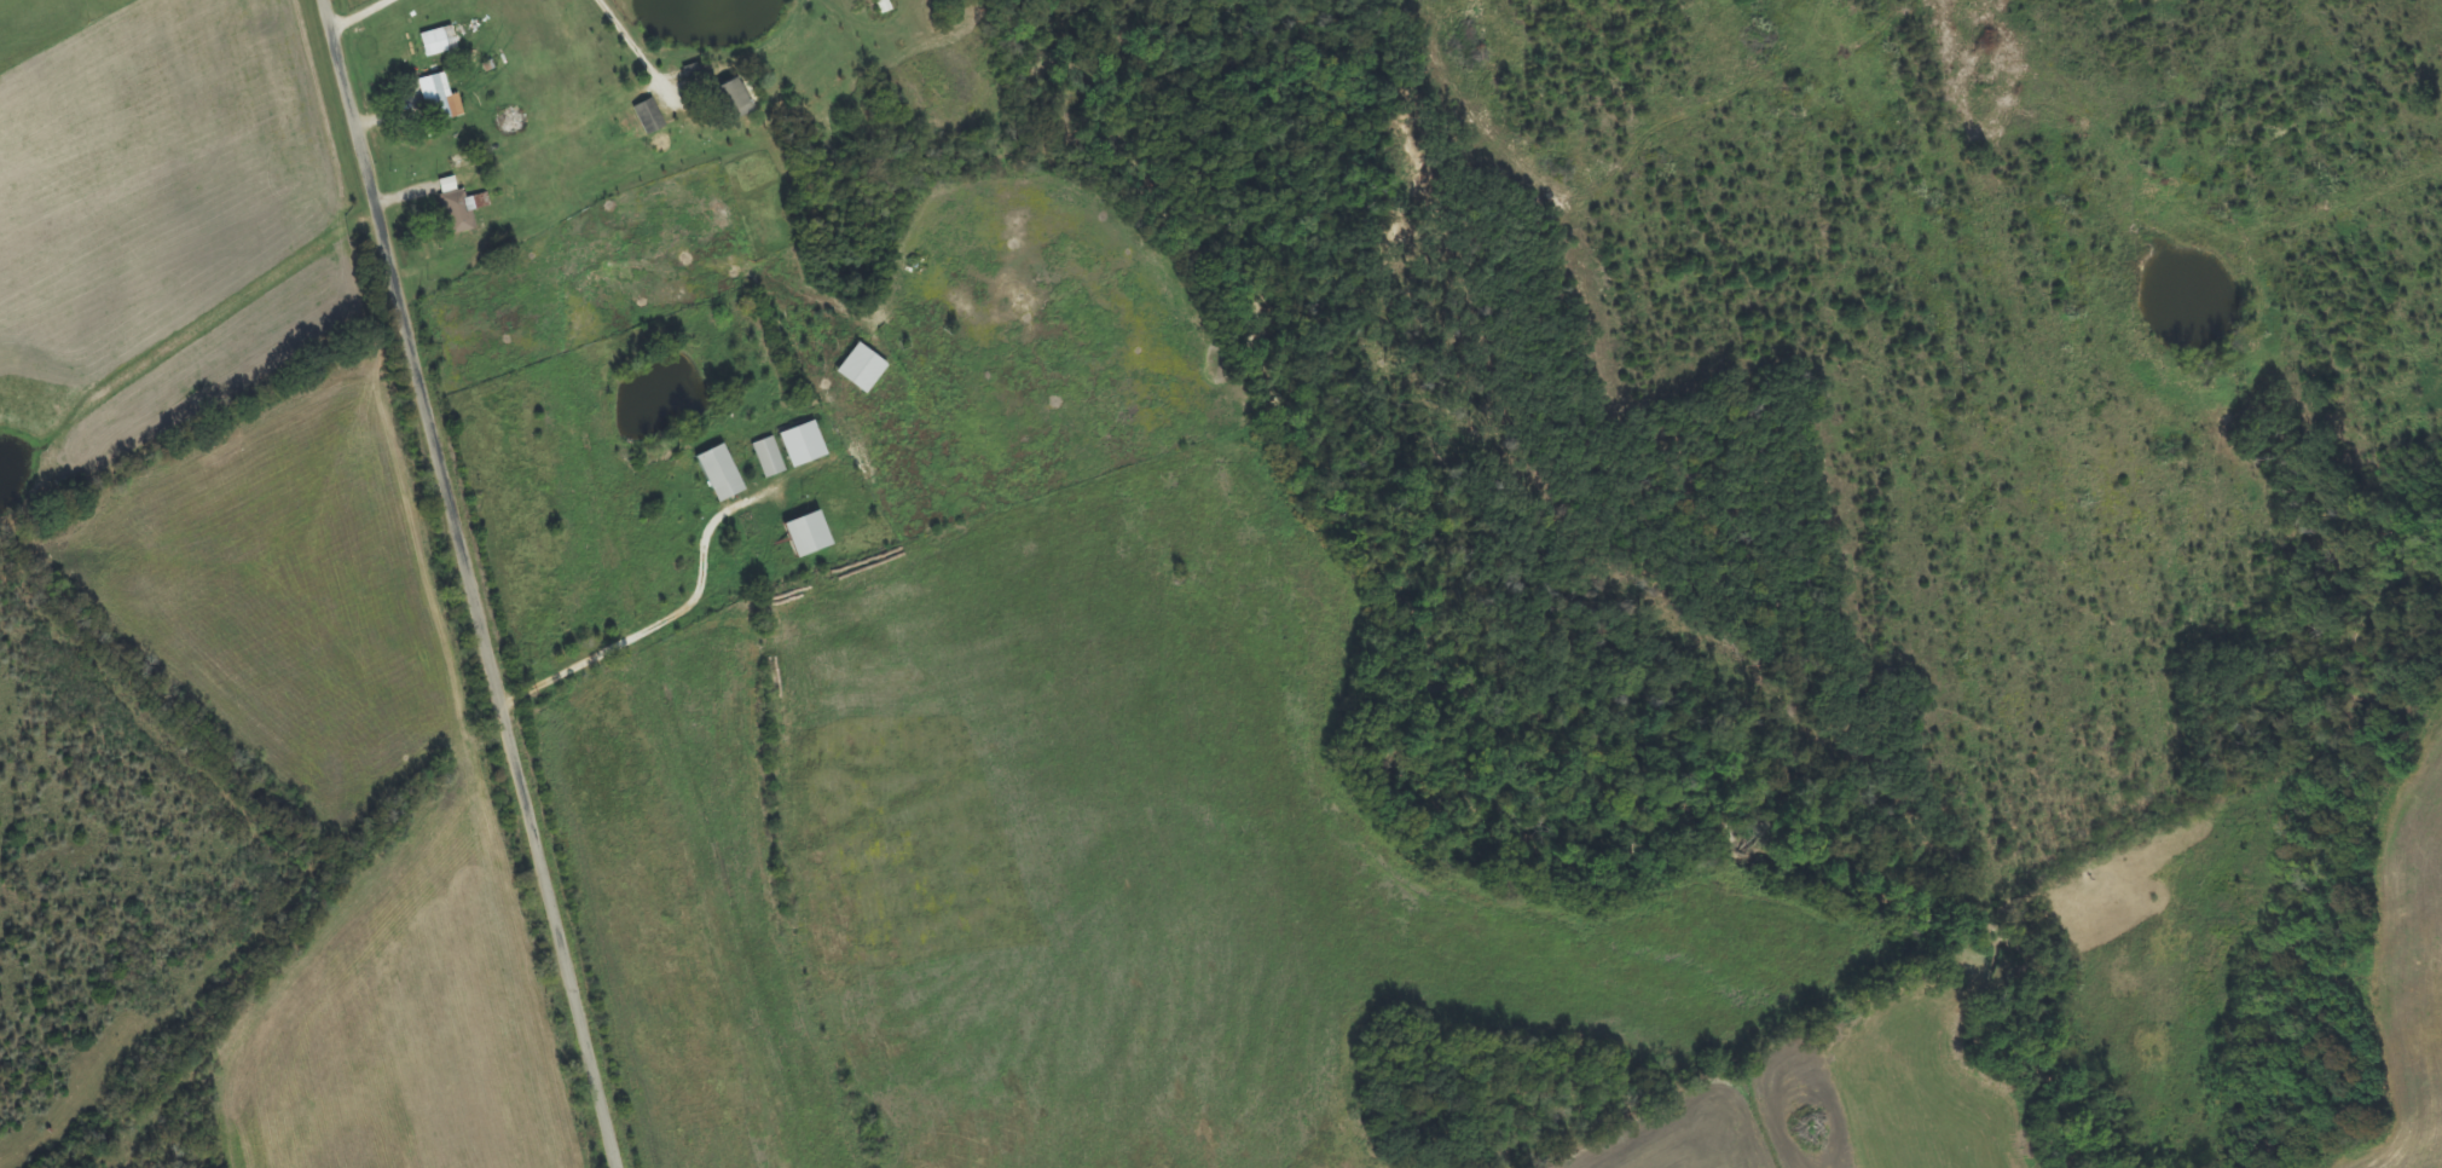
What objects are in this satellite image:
building: (439, 42)
building: (440, 100)
building: (733, 102)
building: (649, 118)
building: (459, 207)
building: (862, 369)
building: (803, 444)
building: (769, 458)
building: (721, 473)
building: (808, 533)
road: (480, 583)
road: (158, 1086)

